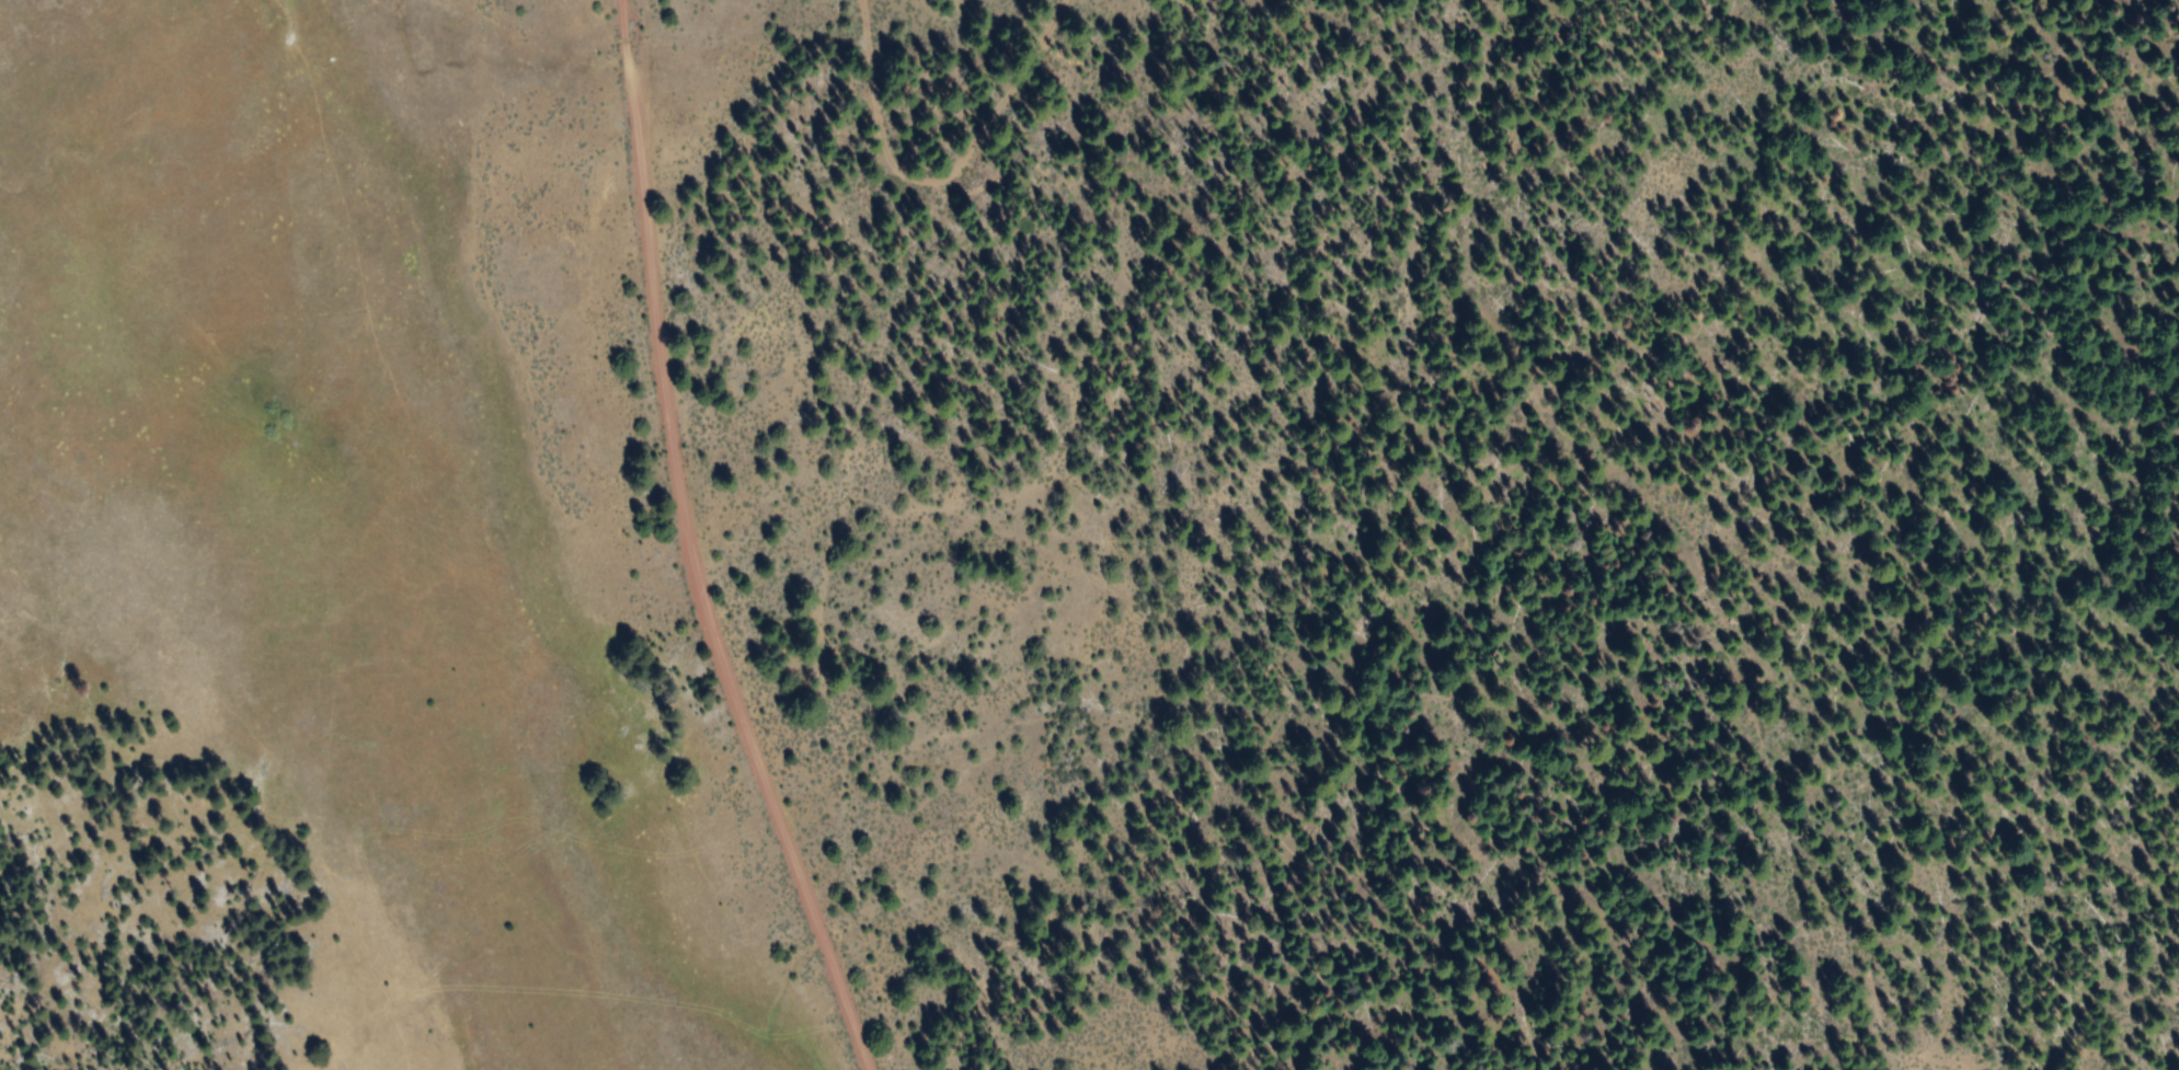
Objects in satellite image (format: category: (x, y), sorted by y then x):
road: (870, 438)
road: (704, 544)

